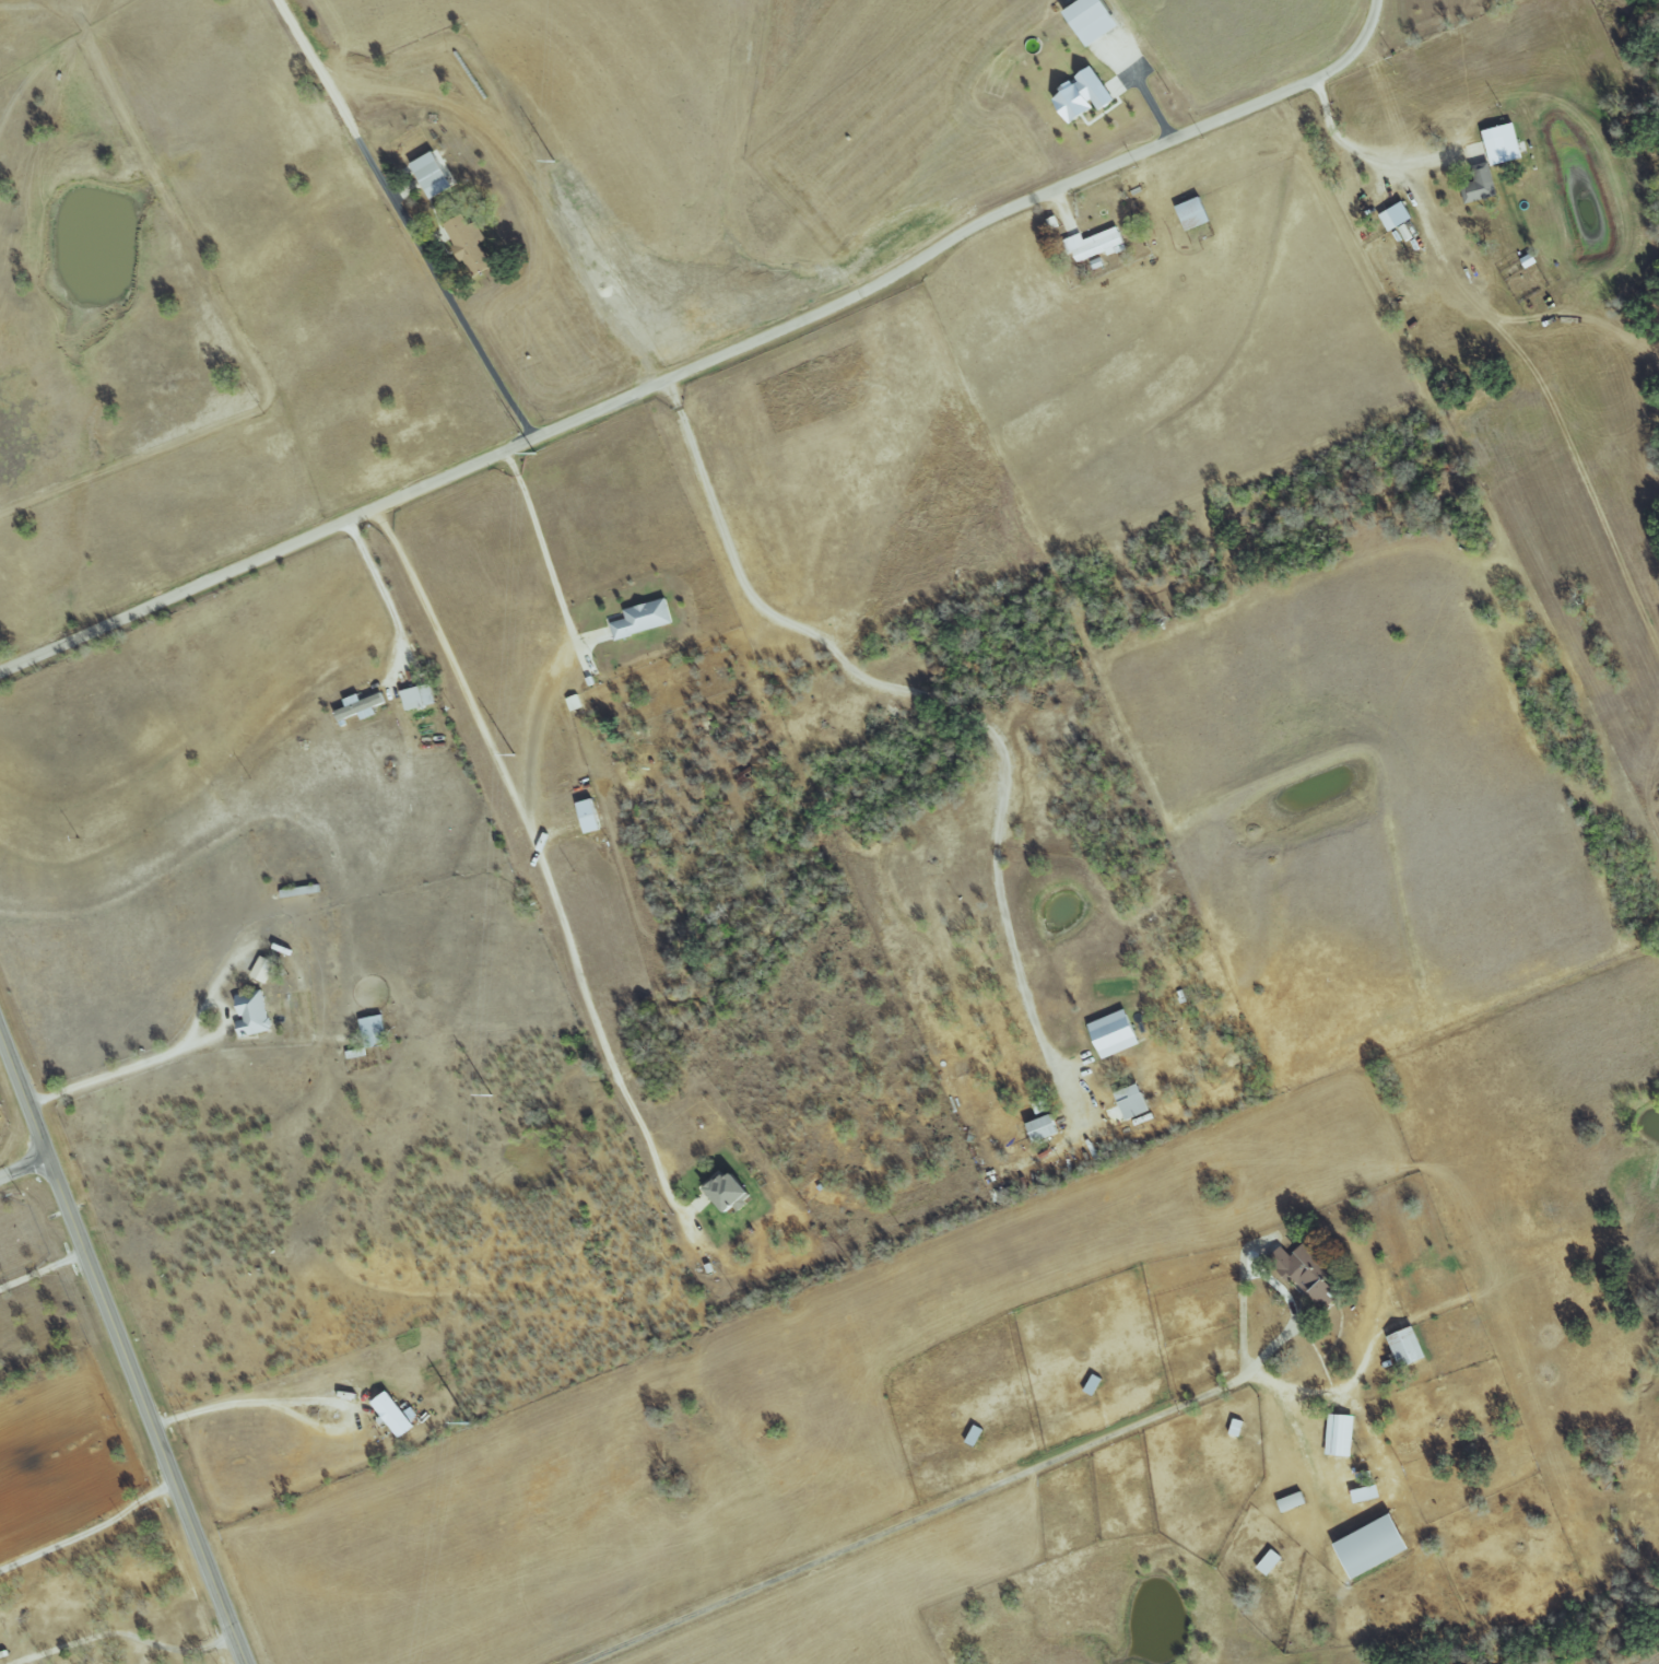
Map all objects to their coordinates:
building: (1094, 19)
building: (1084, 95)
building: (1504, 143)
road: (1360, 150)
power tower: (552, 163)
building: (433, 174)
building: (1481, 185)
building: (1195, 213)
building: (1398, 215)
road: (401, 219)
building: (470, 244)
building: (1097, 244)
road: (709, 360)
power tower: (532, 454)
road: (540, 544)
road: (385, 597)
building: (644, 618)
road: (915, 694)
building: (419, 696)
building: (574, 703)
building: (361, 706)
power tower: (510, 754)
building: (590, 816)
road: (542, 866)
building: (263, 970)
road: (205, 995)
building: (254, 1013)
building: (374, 1031)
building: (1115, 1033)
road: (123, 1068)
power tower: (489, 1098)
building: (1132, 1102)
building: (1044, 1128)
road: (25, 1167)
building: (730, 1192)
building: (1306, 1270)
road: (44, 1272)
road: (122, 1345)
building: (1409, 1347)
building: (1094, 1384)
road: (1342, 1395)
road: (309, 1398)
building: (393, 1415)
power tower: (466, 1423)
building: (1237, 1427)
building: (976, 1434)
building: (1341, 1434)
building: (1367, 1493)
building: (1293, 1501)
road: (942, 1505)
road: (91, 1534)
building: (1375, 1546)
building: (1271, 1562)
road: (131, 1640)

